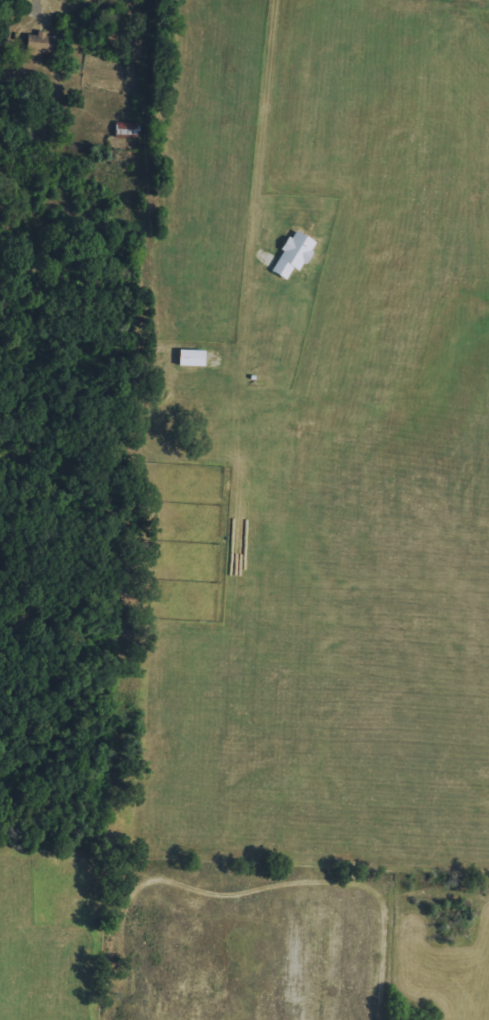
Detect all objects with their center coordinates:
road: (35, 5)
building: (41, 45)
road: (267, 122)
building: (127, 129)
building: (295, 254)
building: (193, 358)

